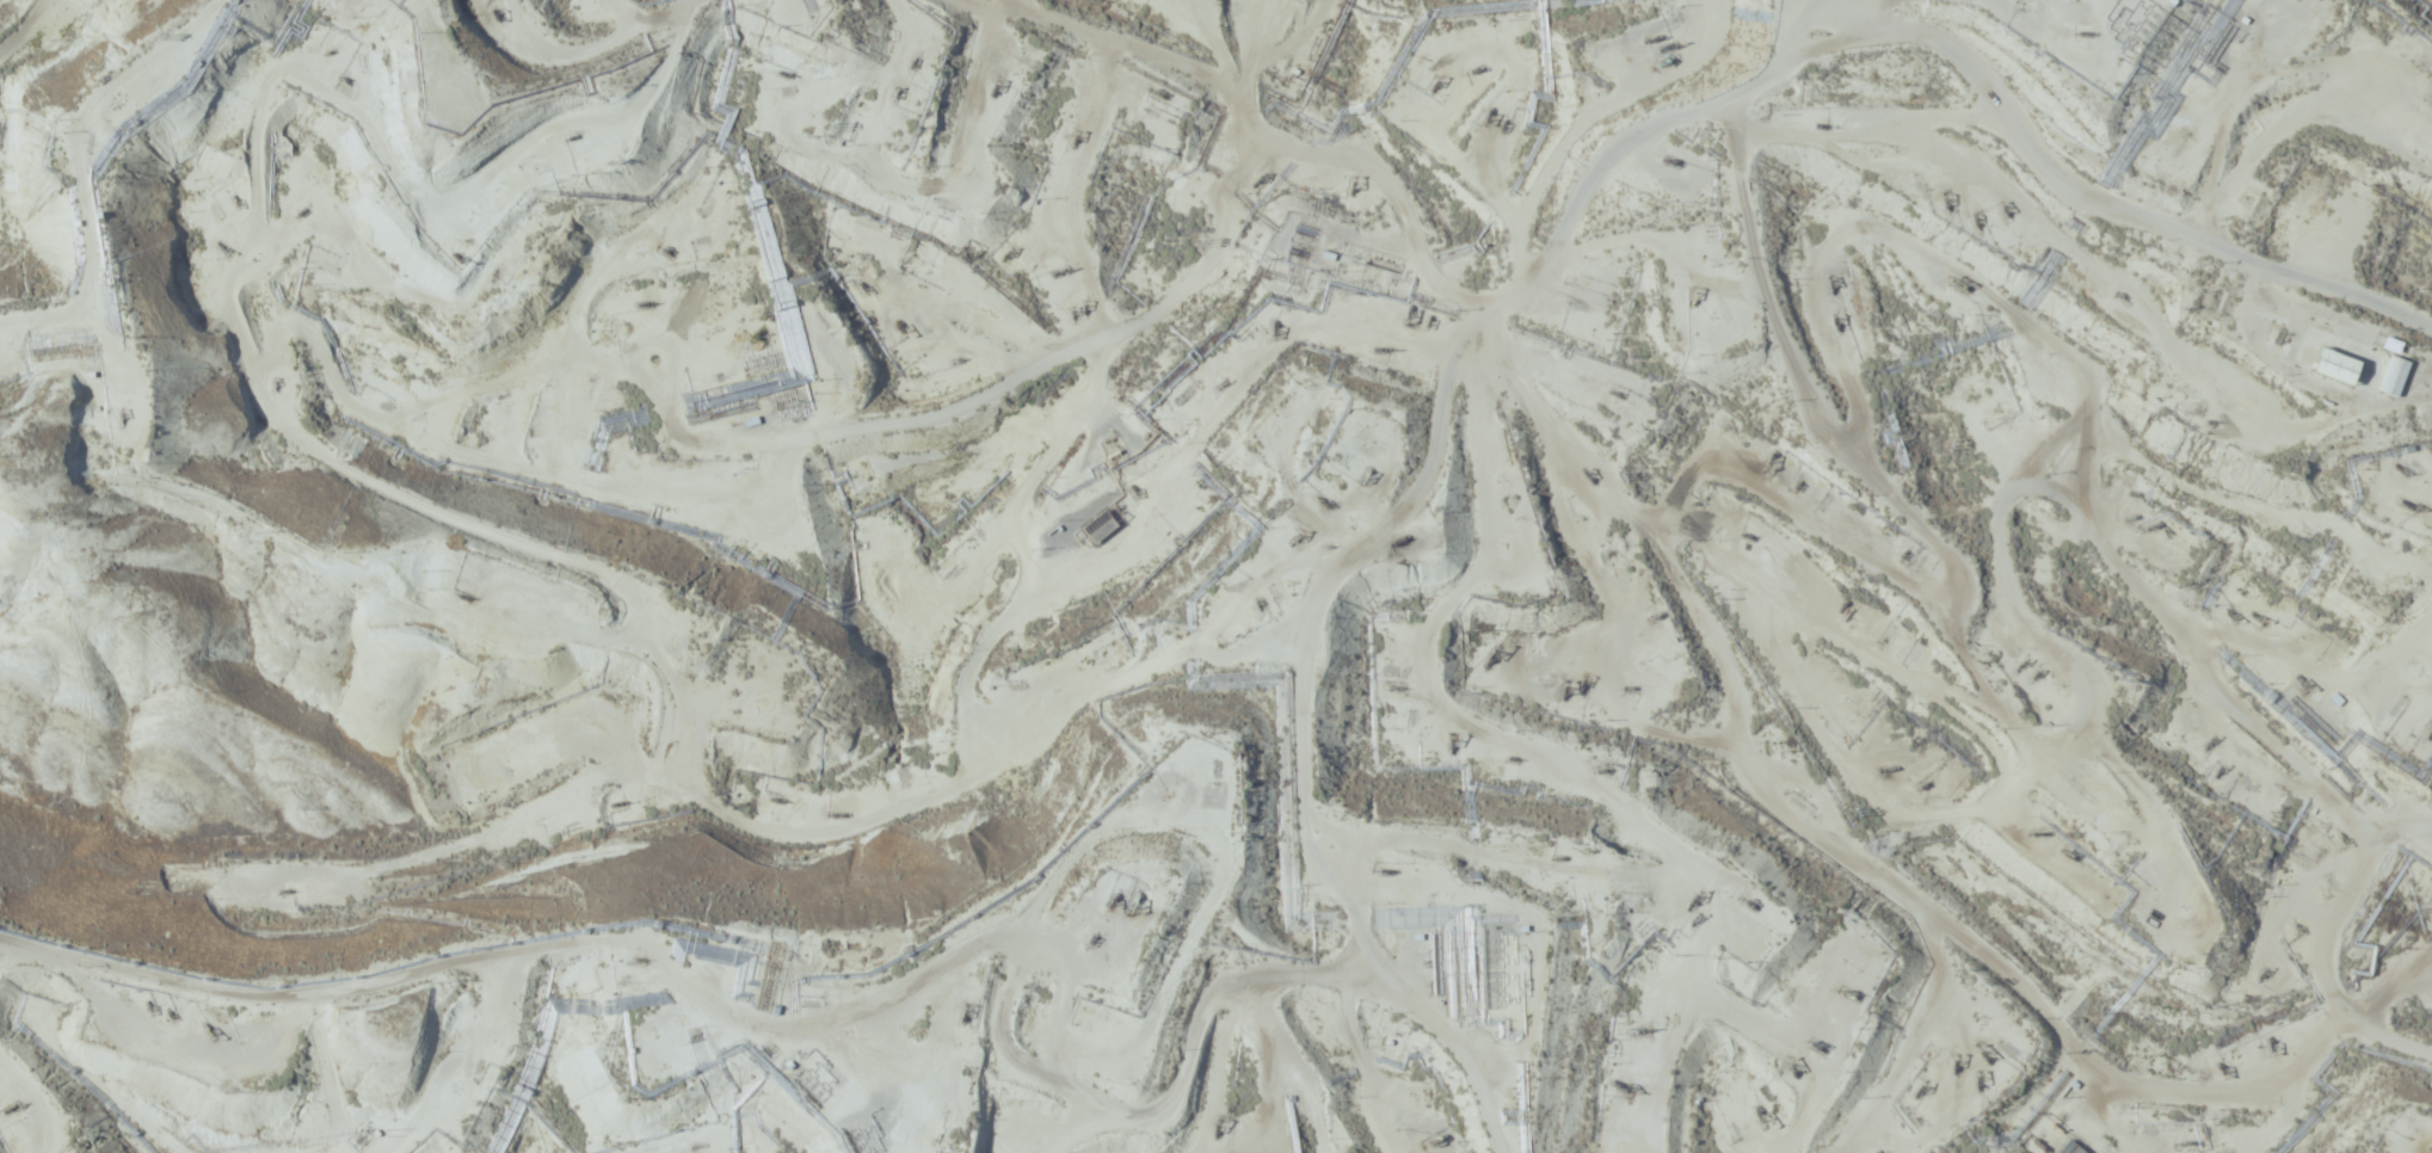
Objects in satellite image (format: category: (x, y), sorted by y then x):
building: (2331, 363)
building: (2393, 376)
building: (1102, 526)

